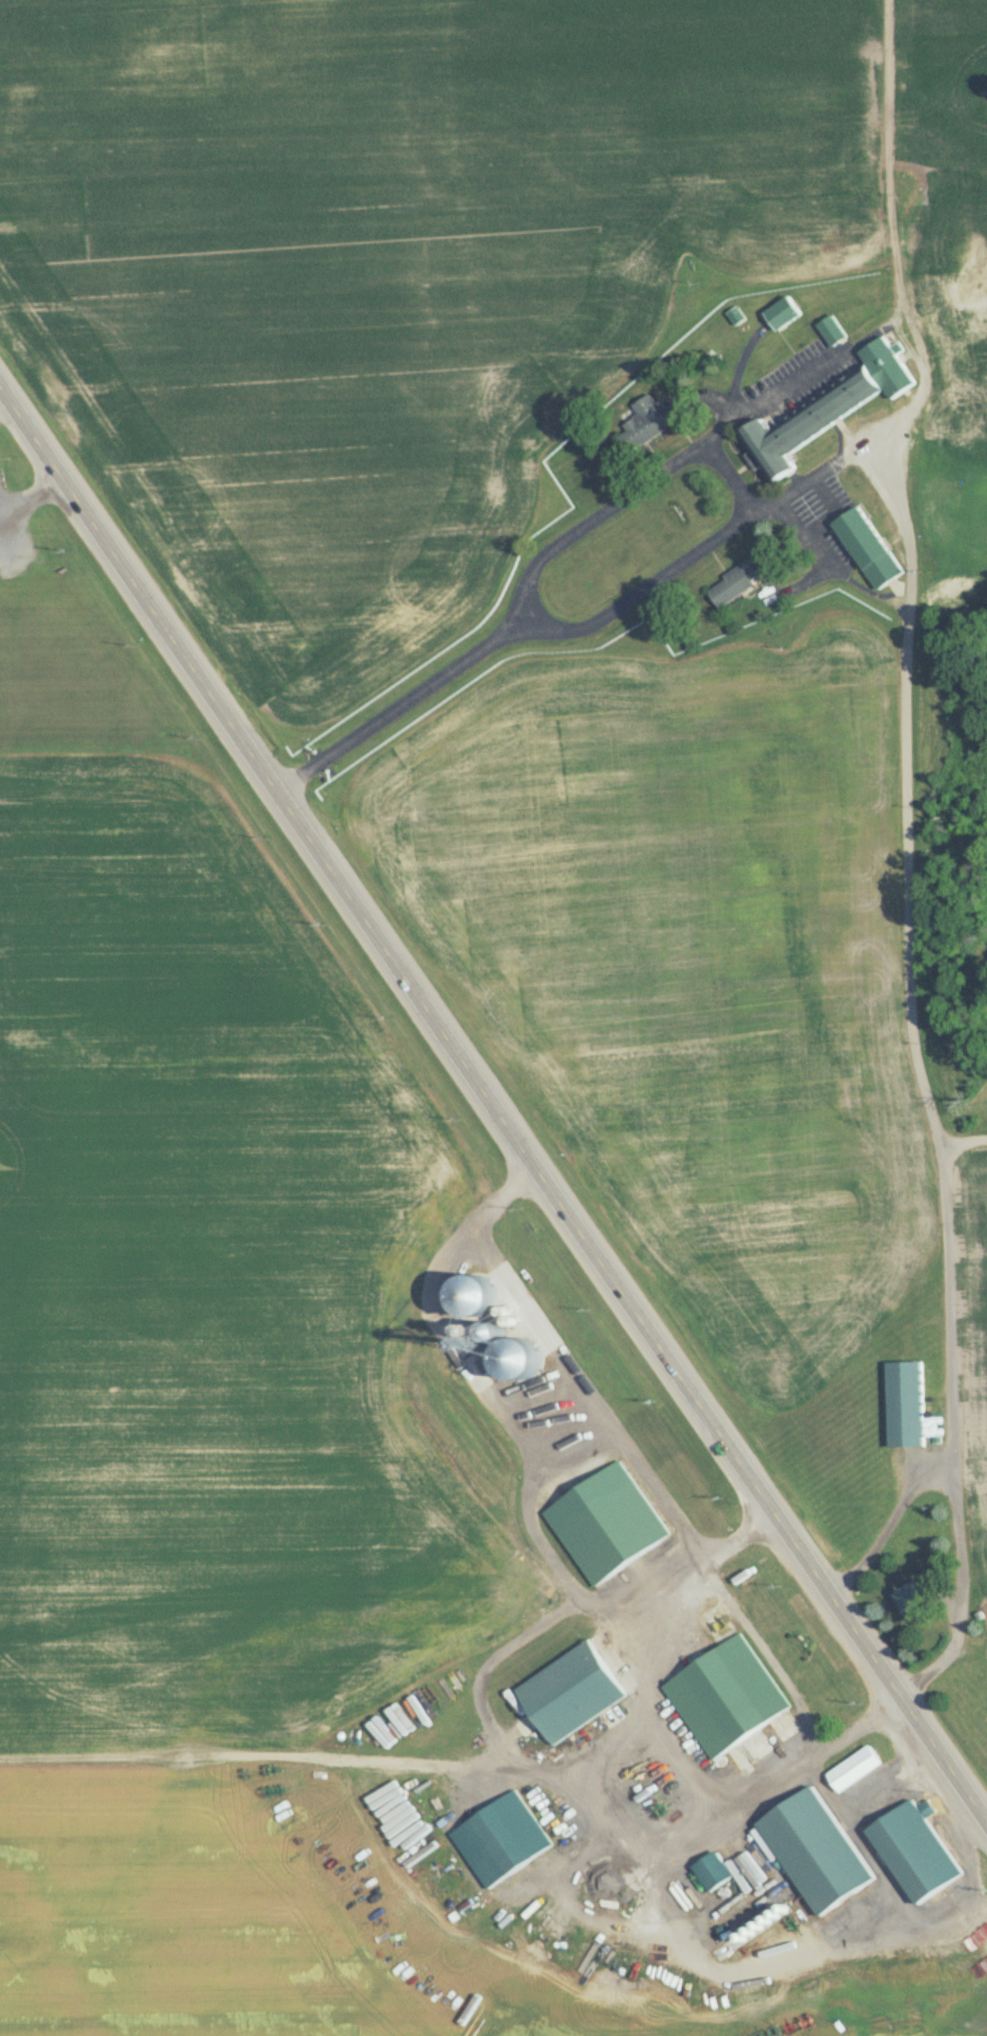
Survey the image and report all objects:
building: (782, 313)
building: (832, 330)
road: (773, 395)
building: (832, 404)
building: (649, 421)
road: (798, 485)
road: (827, 490)
road: (746, 501)
building: (867, 546)
road: (830, 562)
building: (735, 582)
road: (401, 705)
building: (850, 952)
road: (921, 1071)
road: (492, 1101)
road: (587, 1386)
building: (905, 1403)
road: (890, 1523)
building: (558, 1526)
building: (907, 1597)
building: (570, 1693)
building: (726, 1696)
road: (687, 1766)
building: (853, 1768)
building: (501, 1838)
building: (814, 1850)
building: (914, 1850)
building: (712, 1871)
road: (794, 1947)

